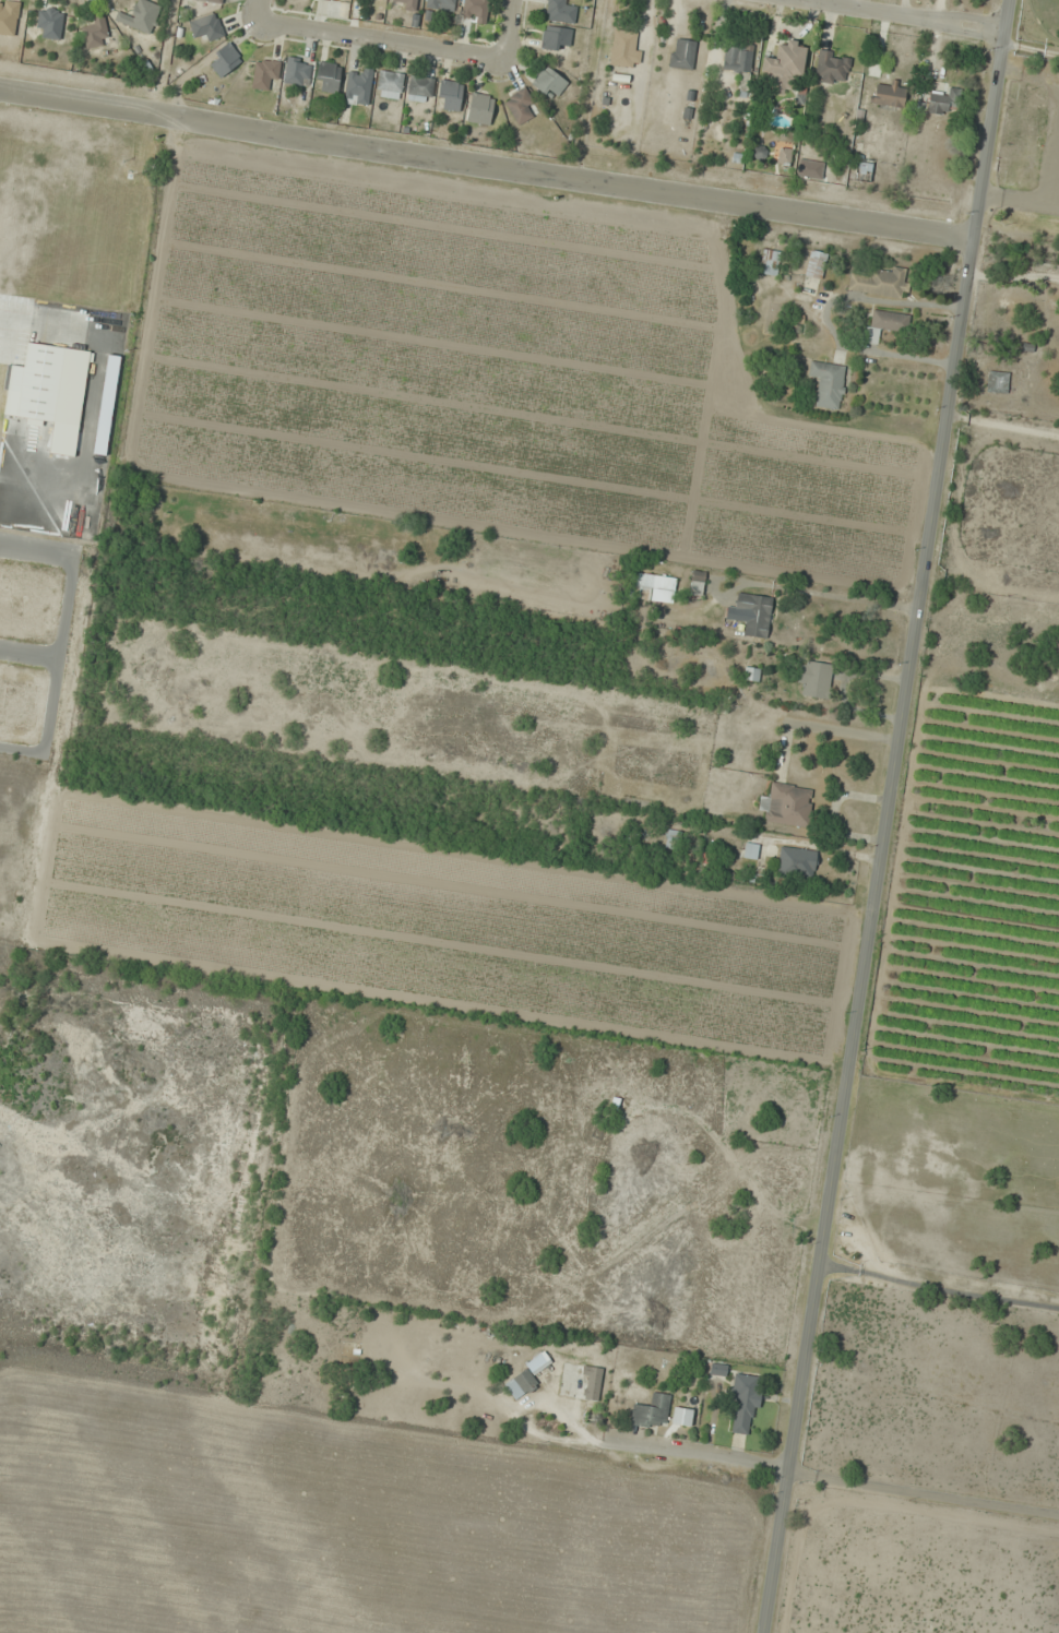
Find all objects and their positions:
building: (211, 1)
building: (405, 3)
building: (475, 11)
building: (560, 11)
road: (257, 13)
road: (889, 15)
road: (1009, 15)
building: (140, 16)
building: (49, 23)
building: (96, 32)
road: (509, 32)
building: (556, 38)
road: (379, 46)
building: (626, 49)
building: (682, 53)
building: (737, 59)
building: (225, 60)
building: (785, 67)
building: (832, 67)
building: (297, 71)
building: (265, 74)
building: (329, 75)
building: (549, 82)
building: (390, 84)
building: (358, 85)
building: (420, 88)
building: (889, 94)
building: (450, 95)
building: (943, 102)
building: (520, 106)
building: (480, 109)
road: (487, 165)
building: (770, 262)
building: (816, 264)
building: (880, 282)
building: (884, 325)
building: (37, 382)
building: (997, 383)
building: (828, 384)
building: (657, 586)
building: (754, 613)
building: (751, 674)
building: (814, 678)
building: (788, 804)
road: (888, 832)
building: (673, 839)
building: (750, 850)
building: (798, 863)
building: (526, 1376)
building: (592, 1382)
building: (745, 1404)
building: (652, 1411)
building: (682, 1416)

